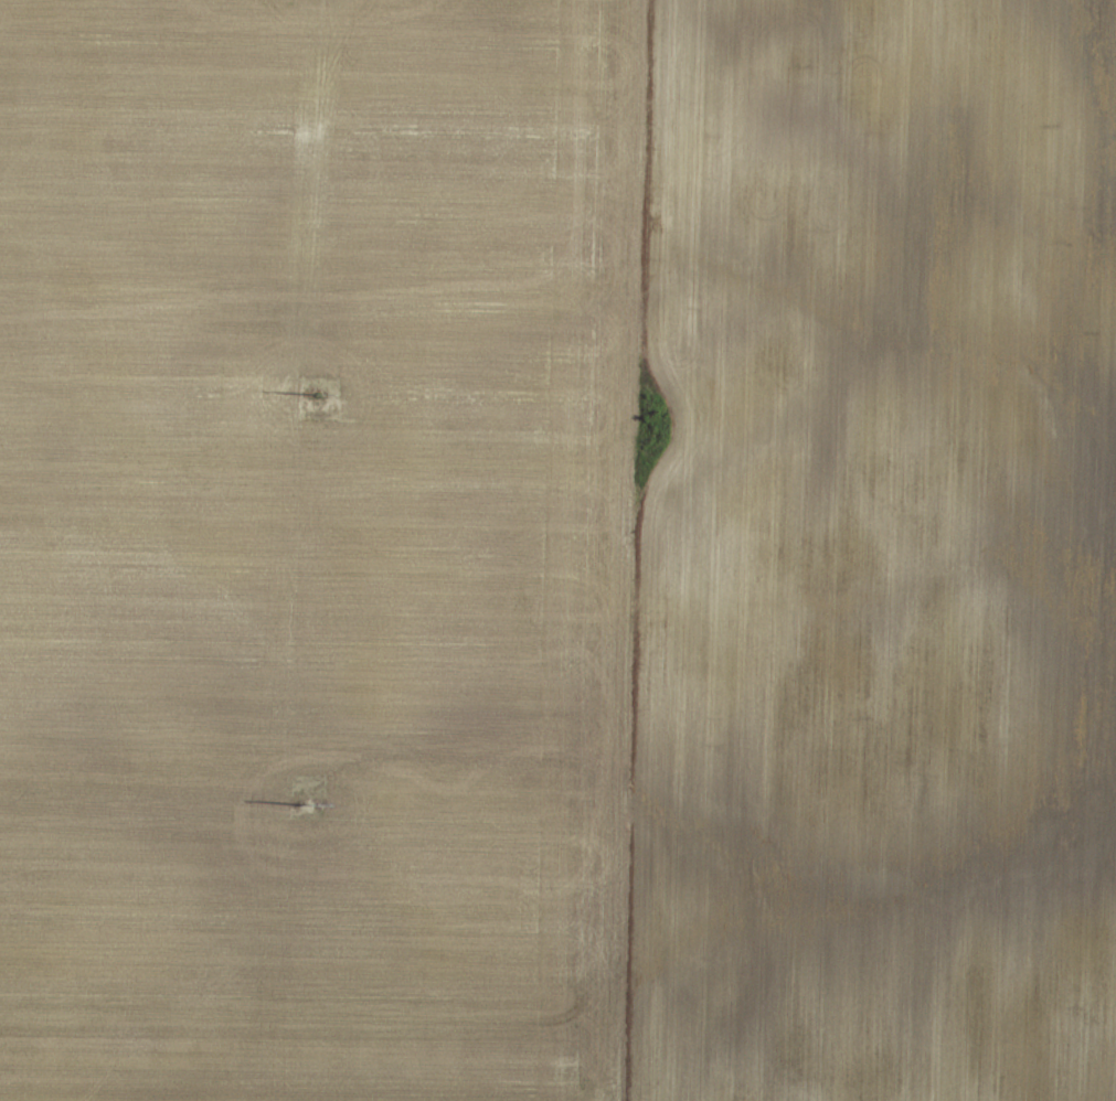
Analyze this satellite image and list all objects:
power tower: (311, 391)
power tower: (299, 799)

